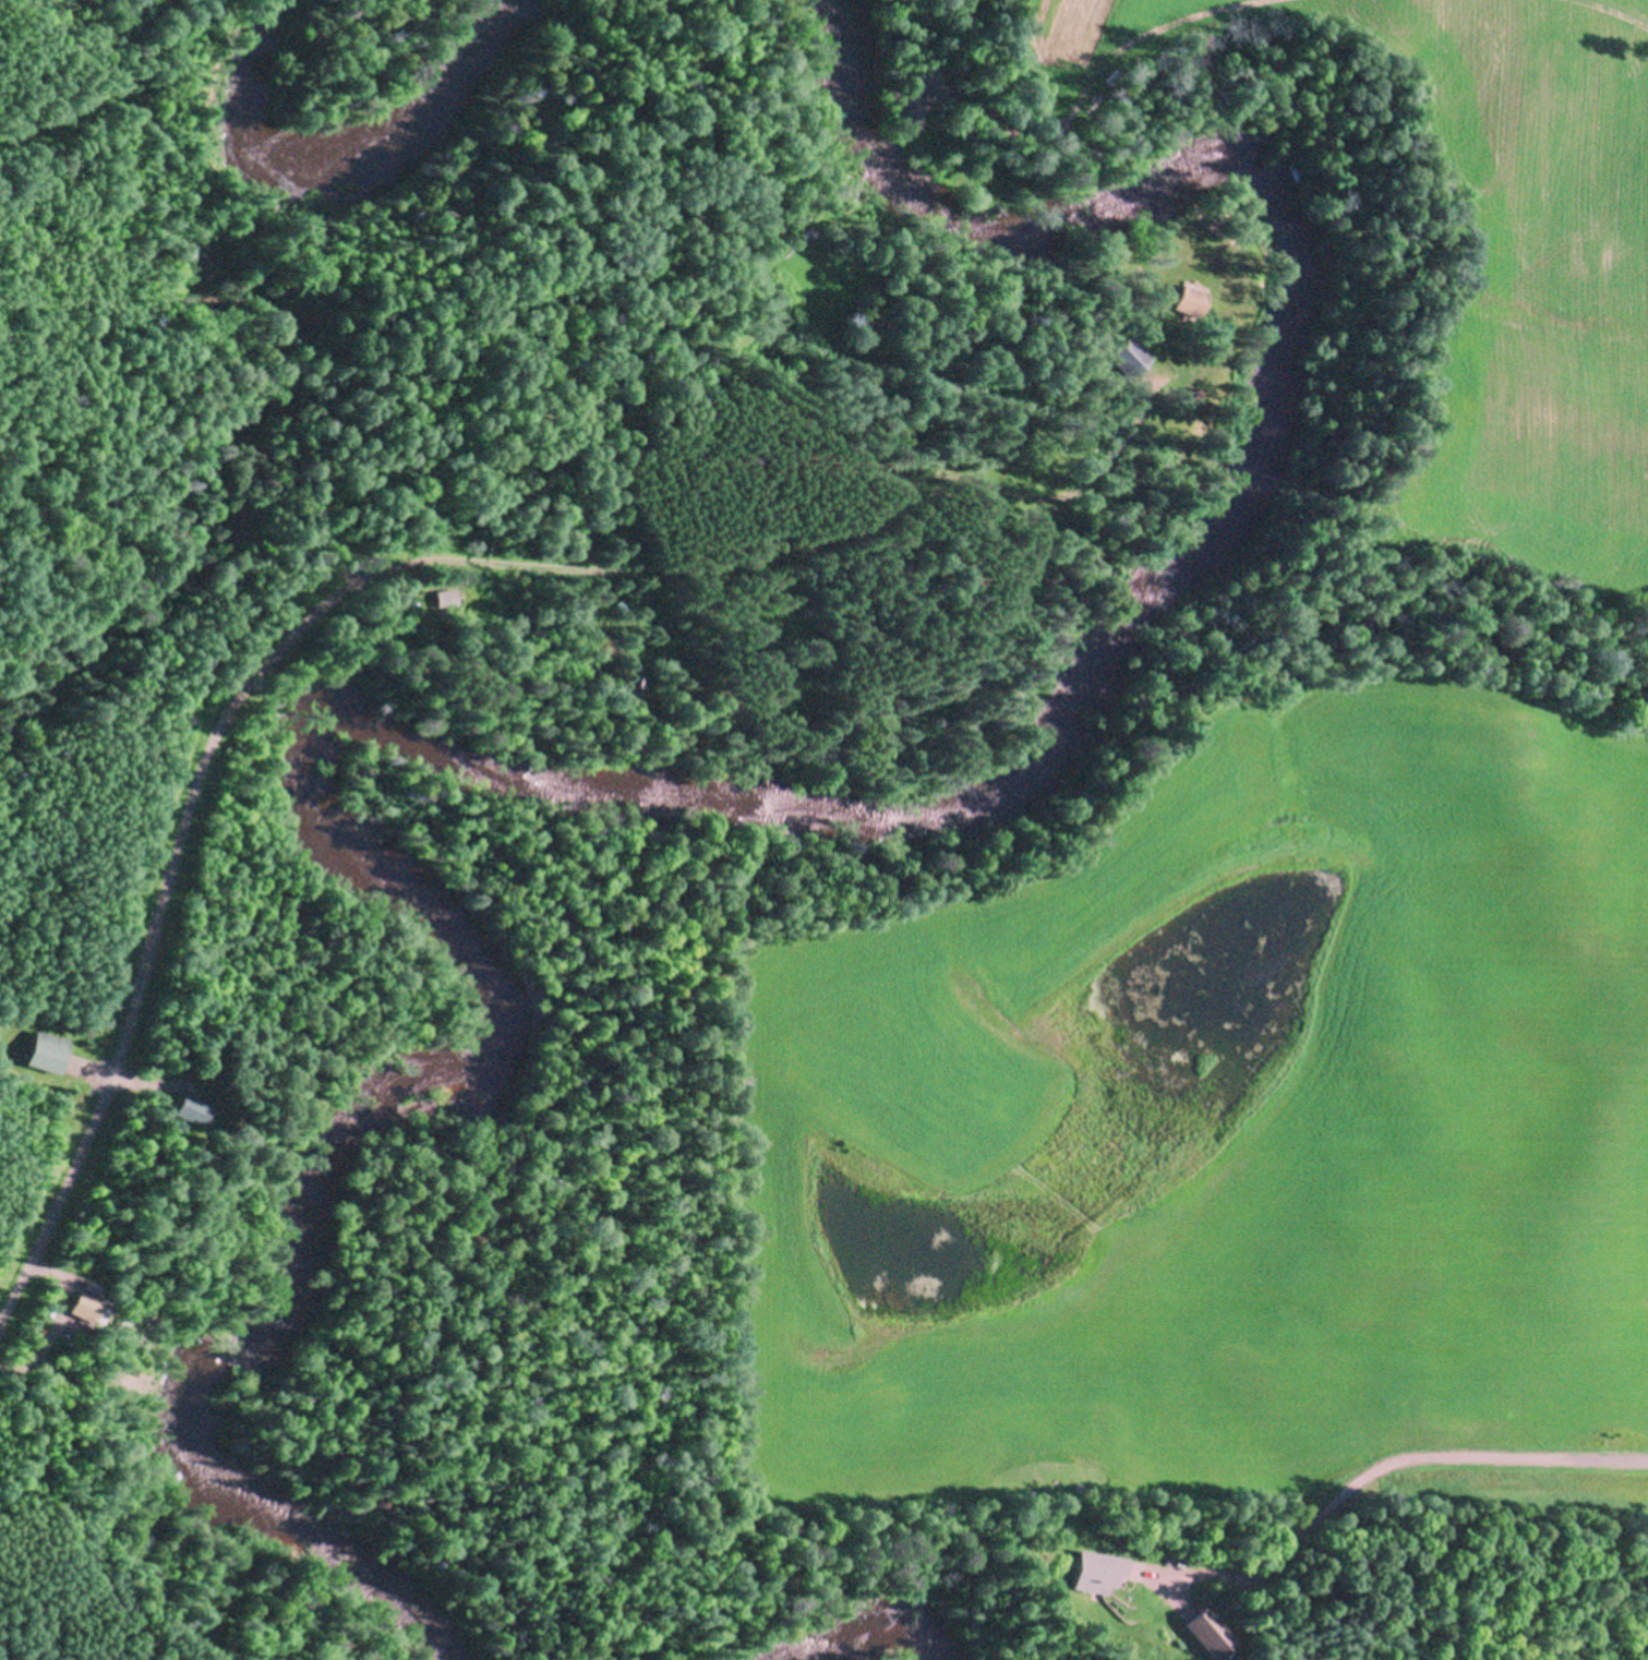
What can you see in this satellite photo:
river: (353, 152)
building: (839, 233)
building: (808, 236)
building: (1190, 302)
building: (1130, 360)
road: (371, 567)
river: (699, 795)
building: (46, 1049)
building: (184, 1108)
building: (79, 1304)
building: (70, 1310)
road: (1385, 1465)
building: (1094, 1568)
building: (1211, 1629)
river: (846, 1643)

